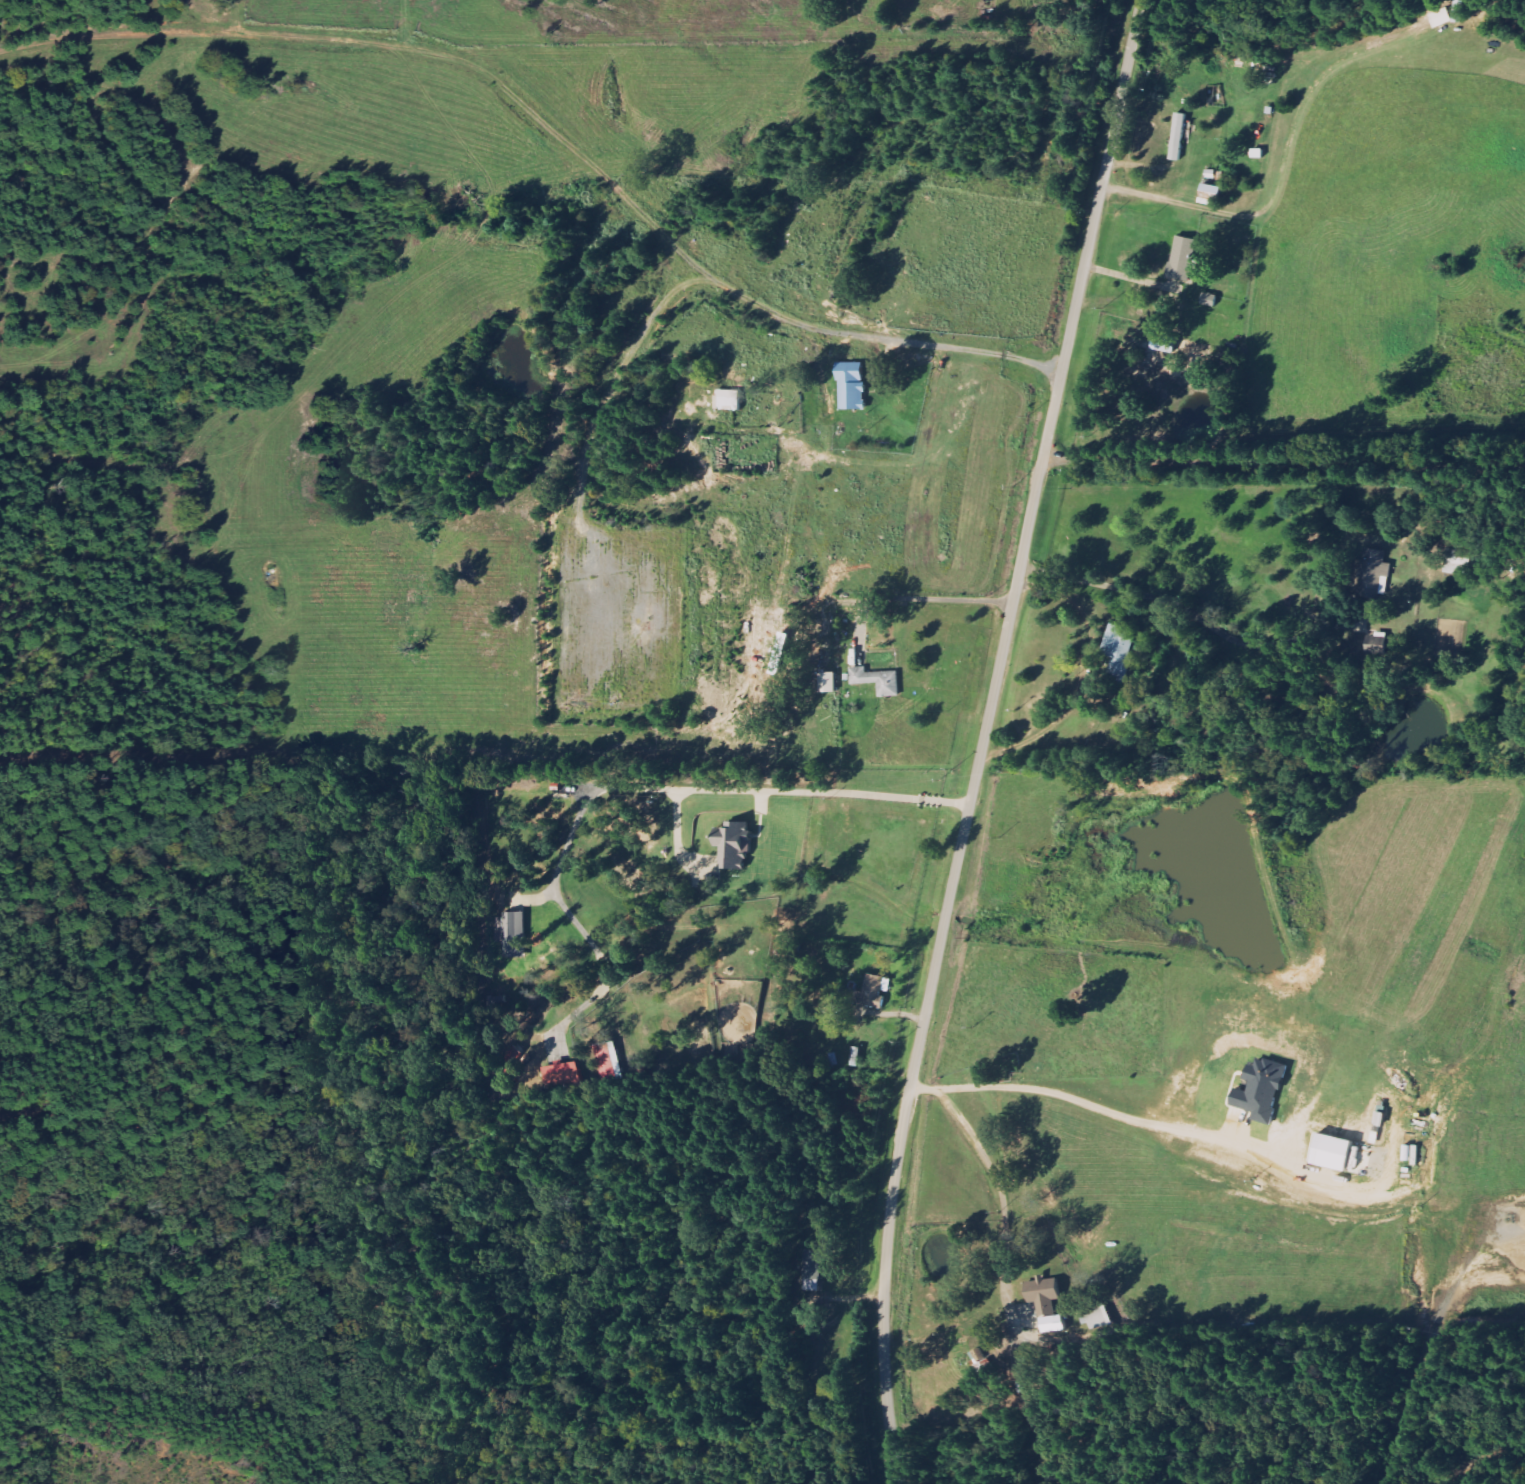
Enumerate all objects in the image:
building: (1456, 11)
building: (1179, 136)
building: (1183, 259)
building: (1164, 343)
road: (958, 348)
building: (852, 386)
building: (729, 400)
road: (1285, 461)
building: (1460, 556)
building: (1373, 572)
building: (1120, 652)
building: (878, 680)
building: (828, 682)
road: (984, 739)
road: (633, 787)
road: (679, 842)
building: (734, 846)
building: (512, 934)
building: (873, 991)
building: (607, 1060)
building: (561, 1075)
building: (1343, 1155)
building: (811, 1264)
building: (1046, 1303)

